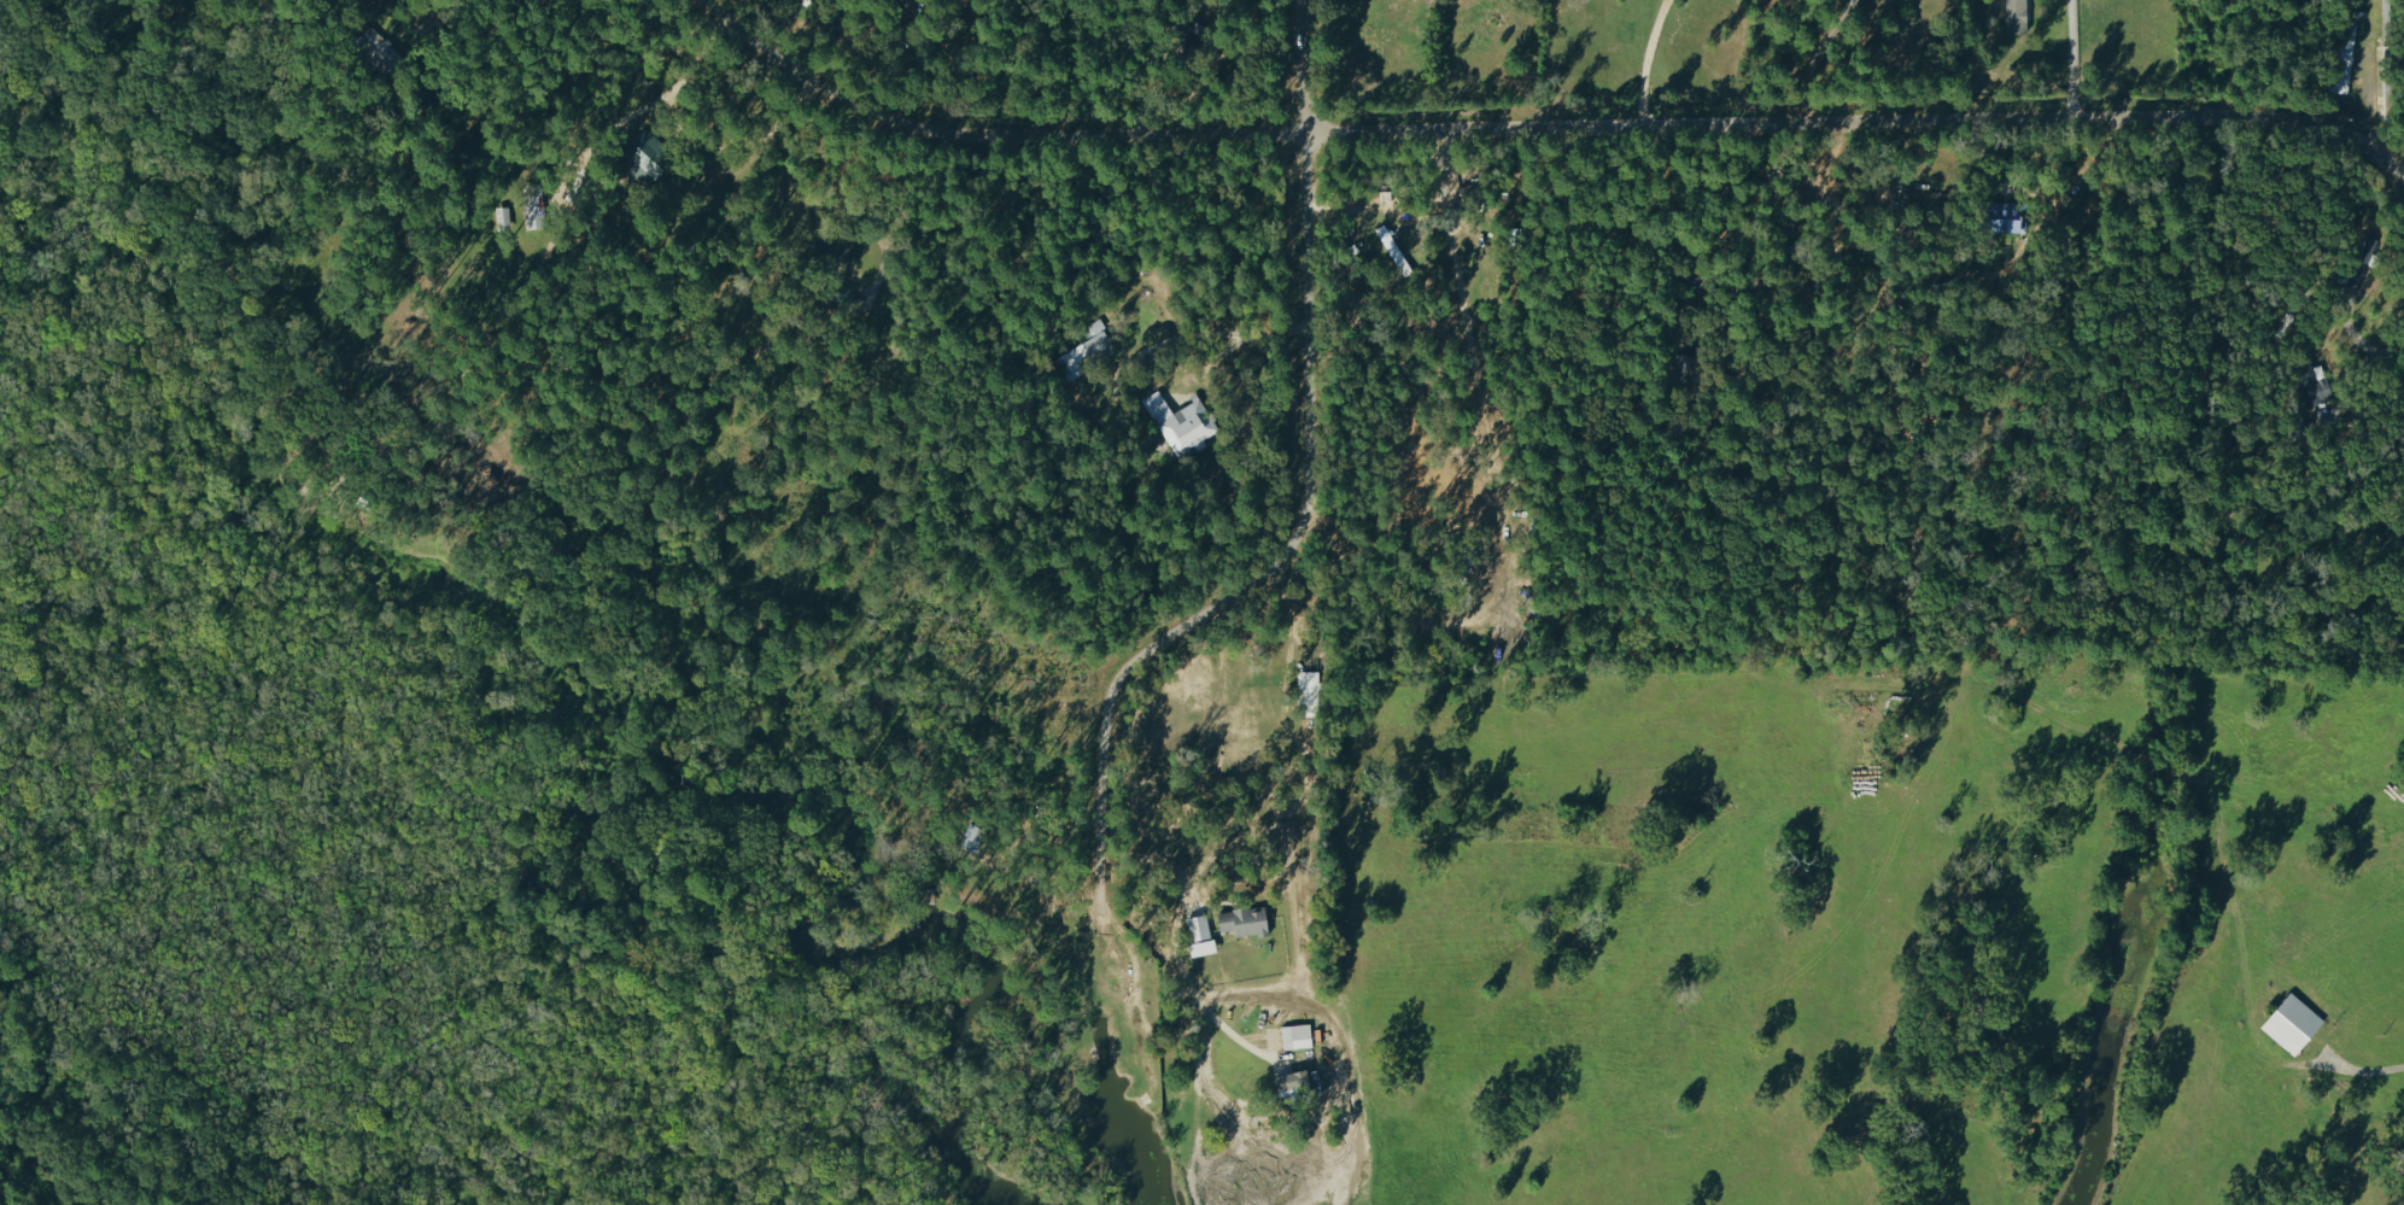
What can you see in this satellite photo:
building: (2019, 16)
building: (2344, 55)
building: (379, 57)
road: (1823, 62)
road: (2075, 63)
road: (1650, 64)
road: (1538, 135)
road: (694, 142)
building: (654, 146)
road: (2041, 193)
road: (1399, 215)
building: (2007, 217)
building: (1391, 246)
road: (2364, 380)
building: (1181, 422)
road: (1274, 522)
building: (1309, 692)
river: (565, 742)
building: (1247, 922)
building: (1200, 928)
building: (2286, 1020)
building: (1299, 1035)
road: (2367, 1069)
building: (1294, 1083)

